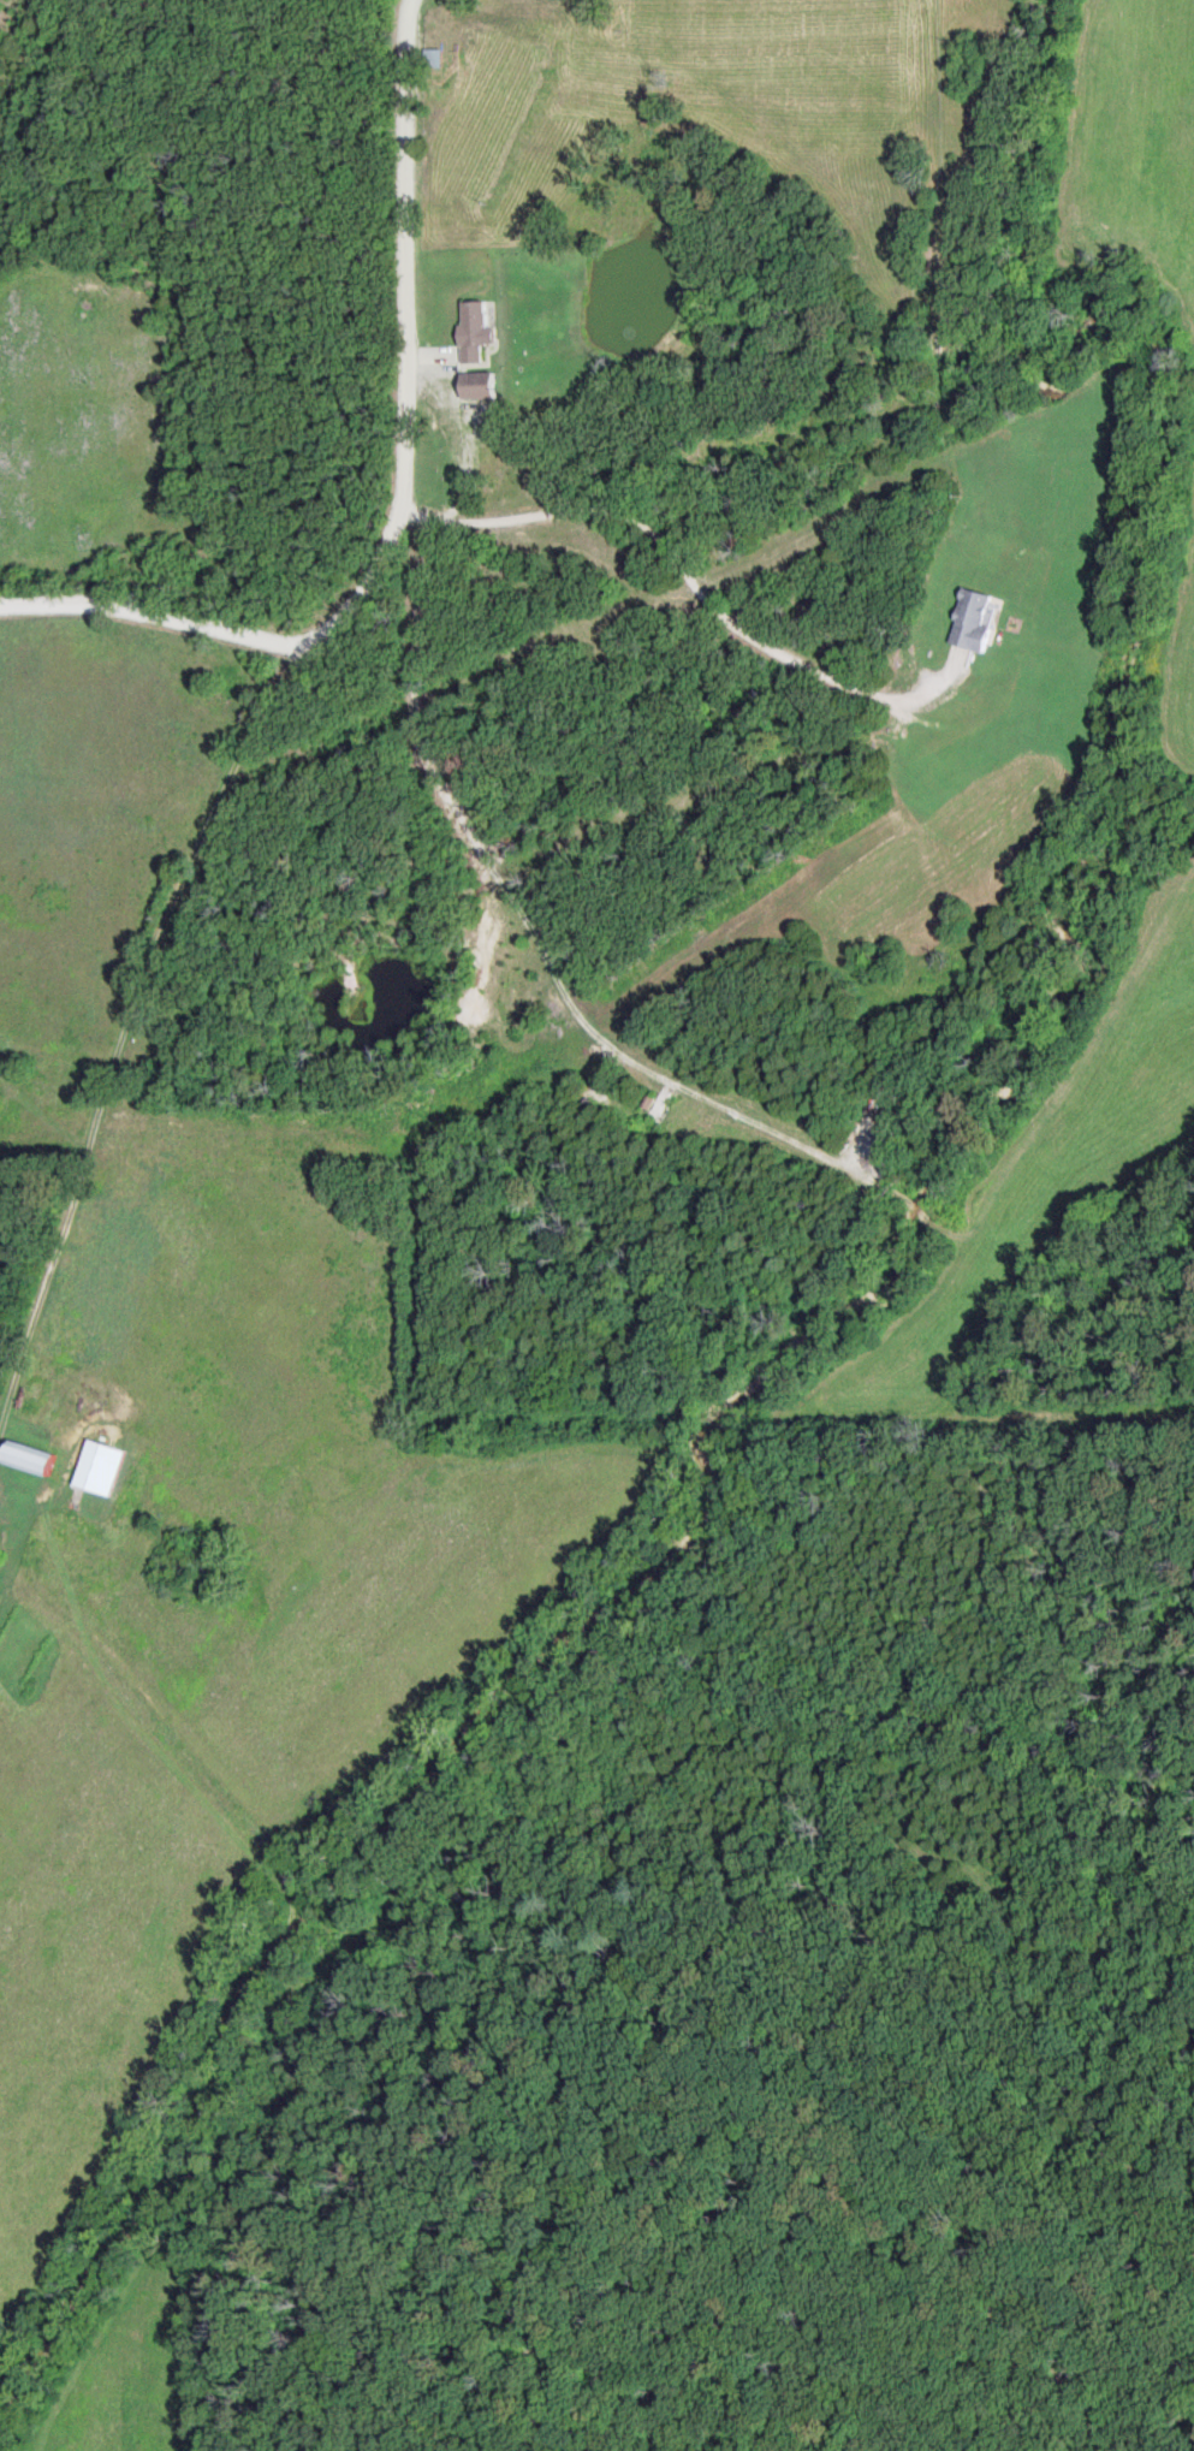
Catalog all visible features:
building: (481, 333)
building: (487, 387)
road: (404, 495)
road: (685, 571)
building: (979, 621)
road: (517, 913)
road: (121, 1033)
building: (40, 1462)
building: (105, 1470)

